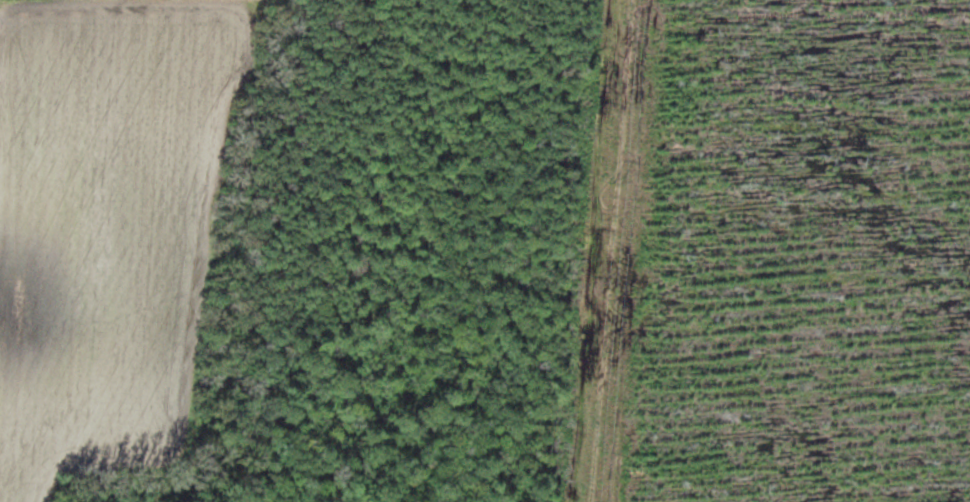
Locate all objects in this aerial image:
power tower: (621, 182)

